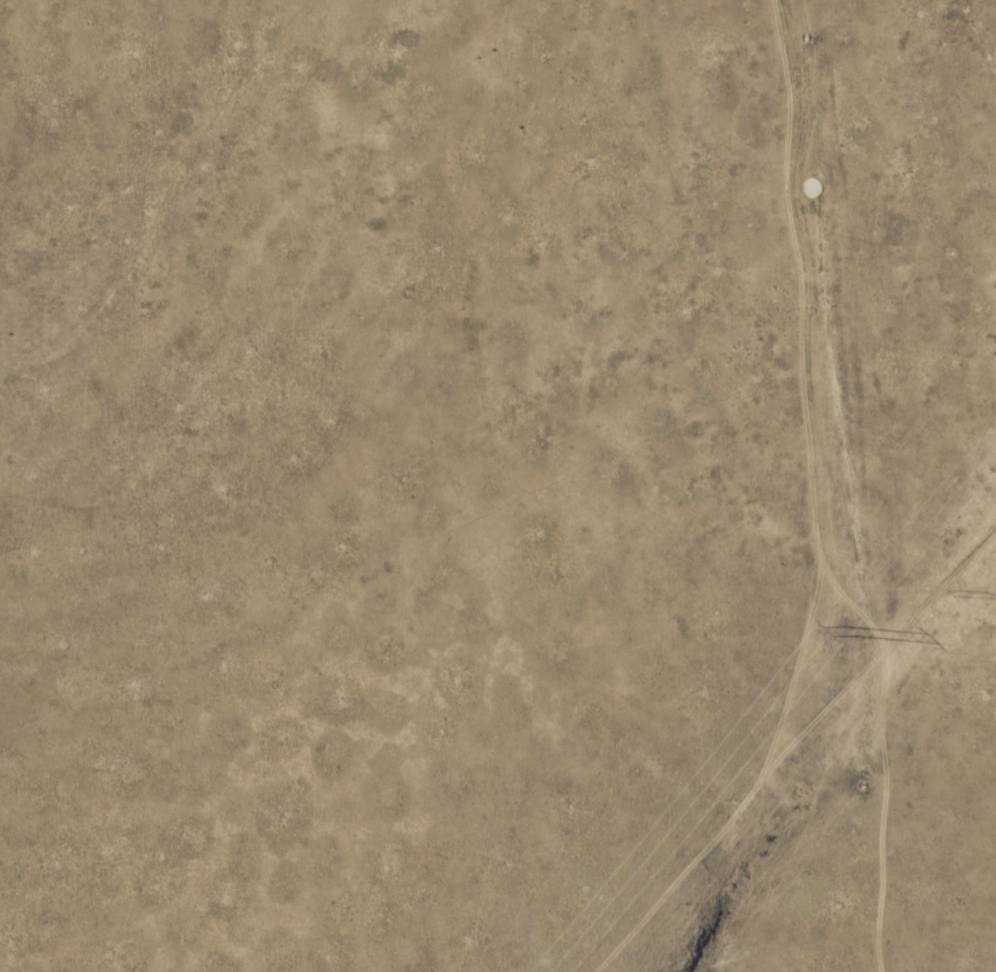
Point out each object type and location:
road: (805, 330)
road: (727, 515)
power tower: (961, 600)
power tower: (848, 635)
road: (882, 728)
road: (732, 811)

